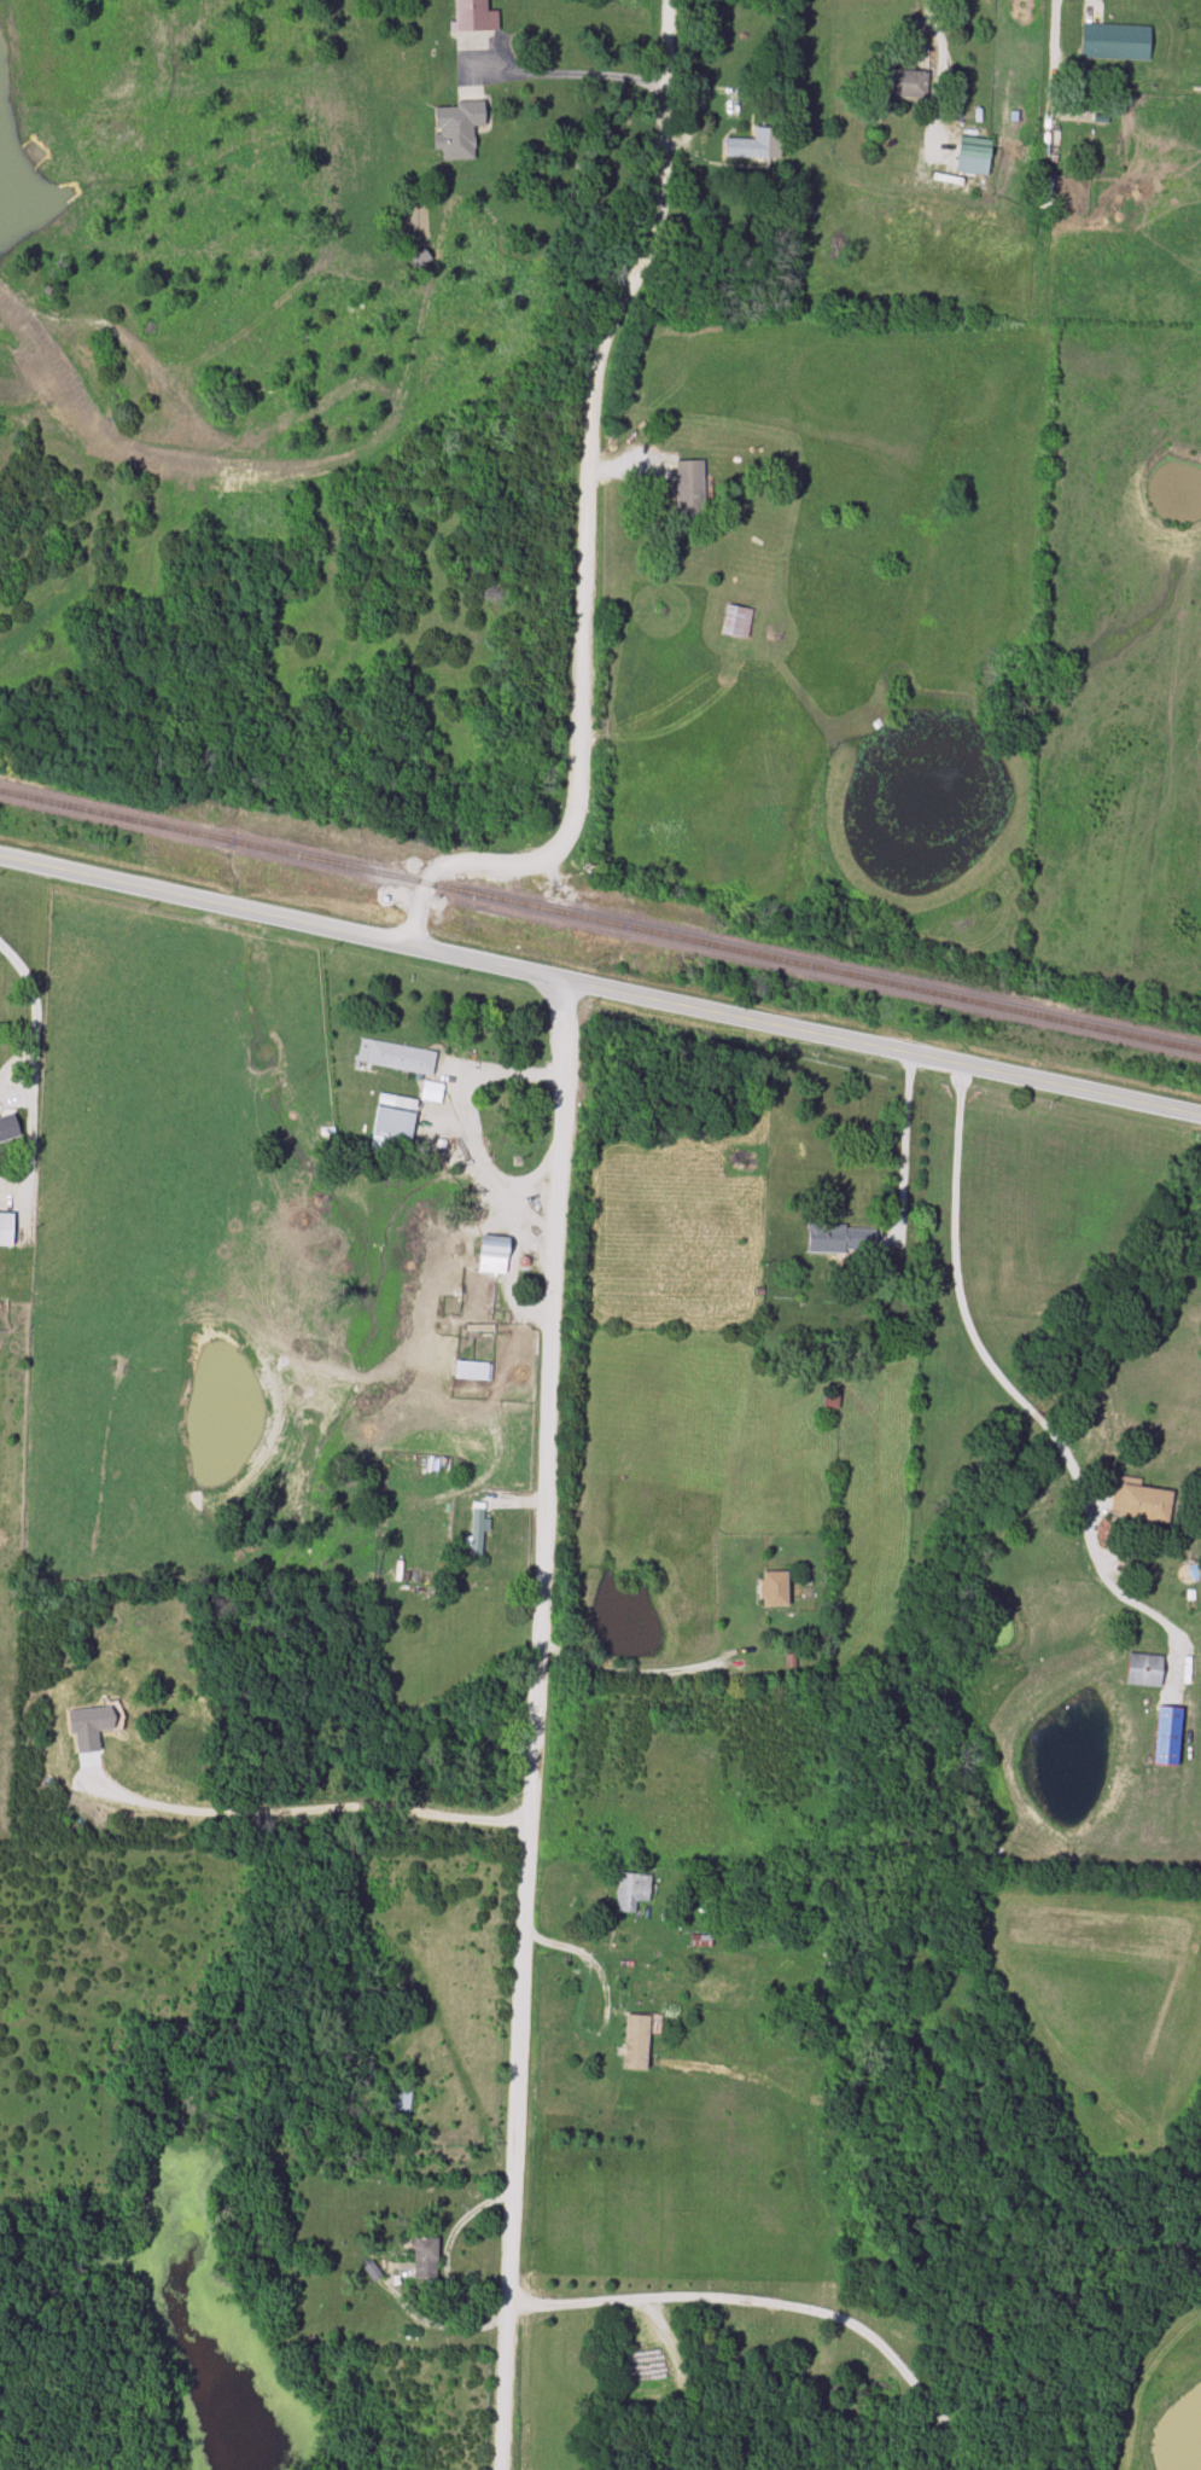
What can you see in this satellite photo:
road: (1088, 2)
building: (473, 16)
road: (927, 16)
building: (1115, 42)
road: (572, 76)
building: (906, 85)
building: (456, 129)
building: (757, 145)
building: (974, 156)
building: (690, 490)
road: (585, 522)
building: (736, 622)
railway: (600, 920)
road: (600, 989)
road: (35, 1009)
building: (396, 1057)
building: (431, 1092)
road: (459, 1112)
building: (392, 1120)
building: (8, 1127)
road: (904, 1144)
building: (6, 1230)
building: (841, 1238)
building: (494, 1255)
building: (474, 1335)
road: (974, 1338)
building: (472, 1371)
building: (830, 1400)
building: (1142, 1503)
building: (477, 1528)
building: (775, 1589)
road: (652, 1669)
building: (1145, 1670)
road: (537, 1727)
road: (313, 1813)
building: (631, 1891)
building: (810, 1994)
building: (636, 2042)
building: (402, 2097)
road: (445, 2255)
building: (425, 2260)
road: (780, 2303)

